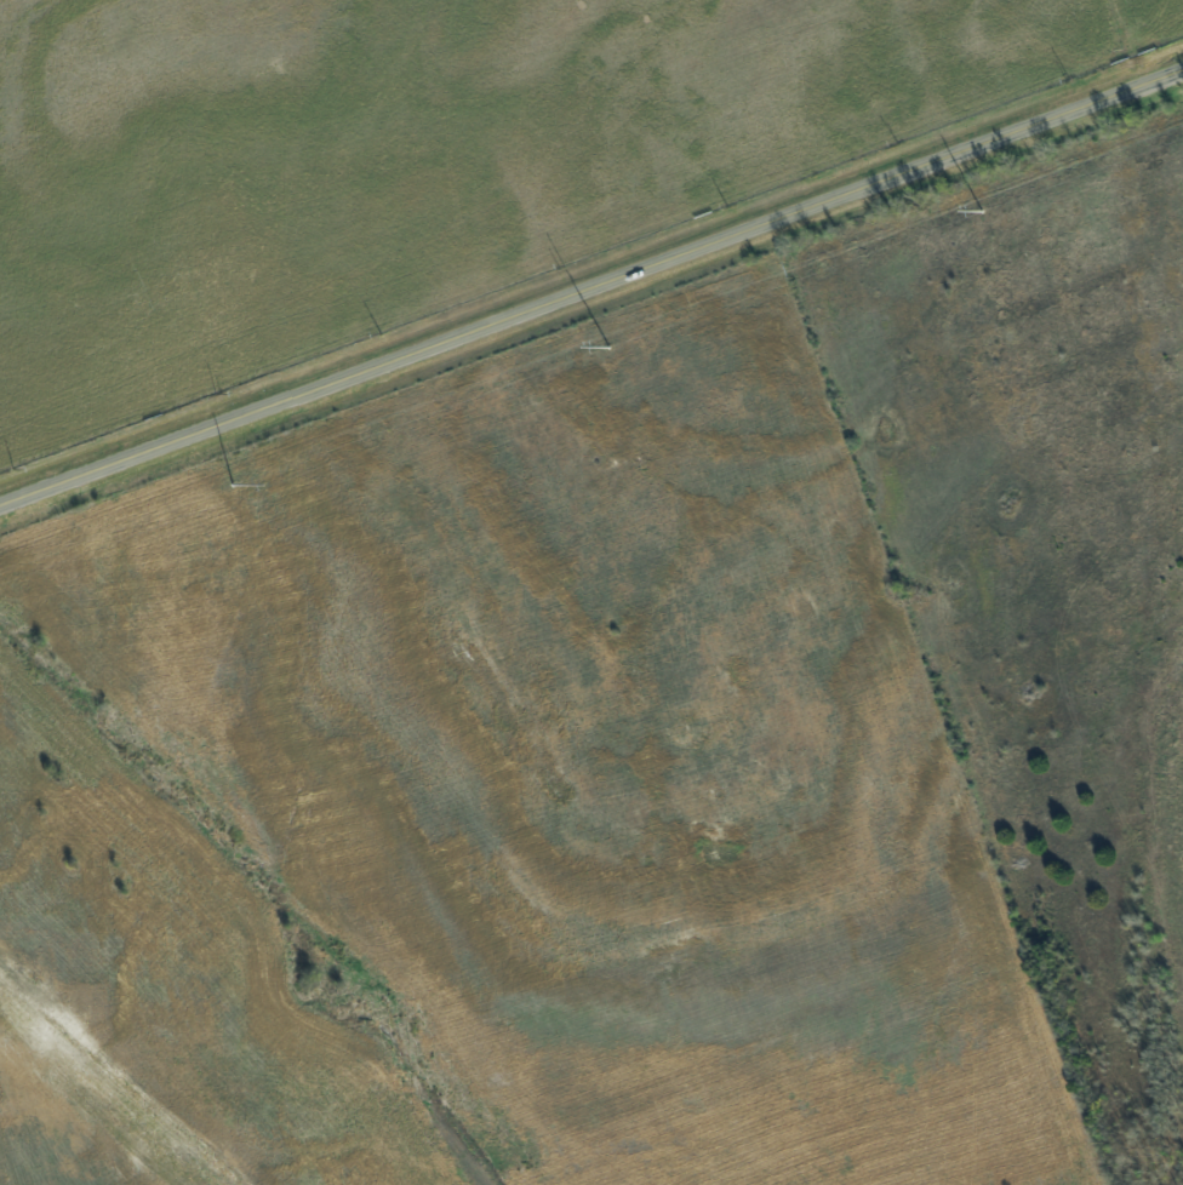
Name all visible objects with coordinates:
power tower: (977, 213)
road: (591, 287)
power tower: (606, 349)
power tower: (232, 487)

